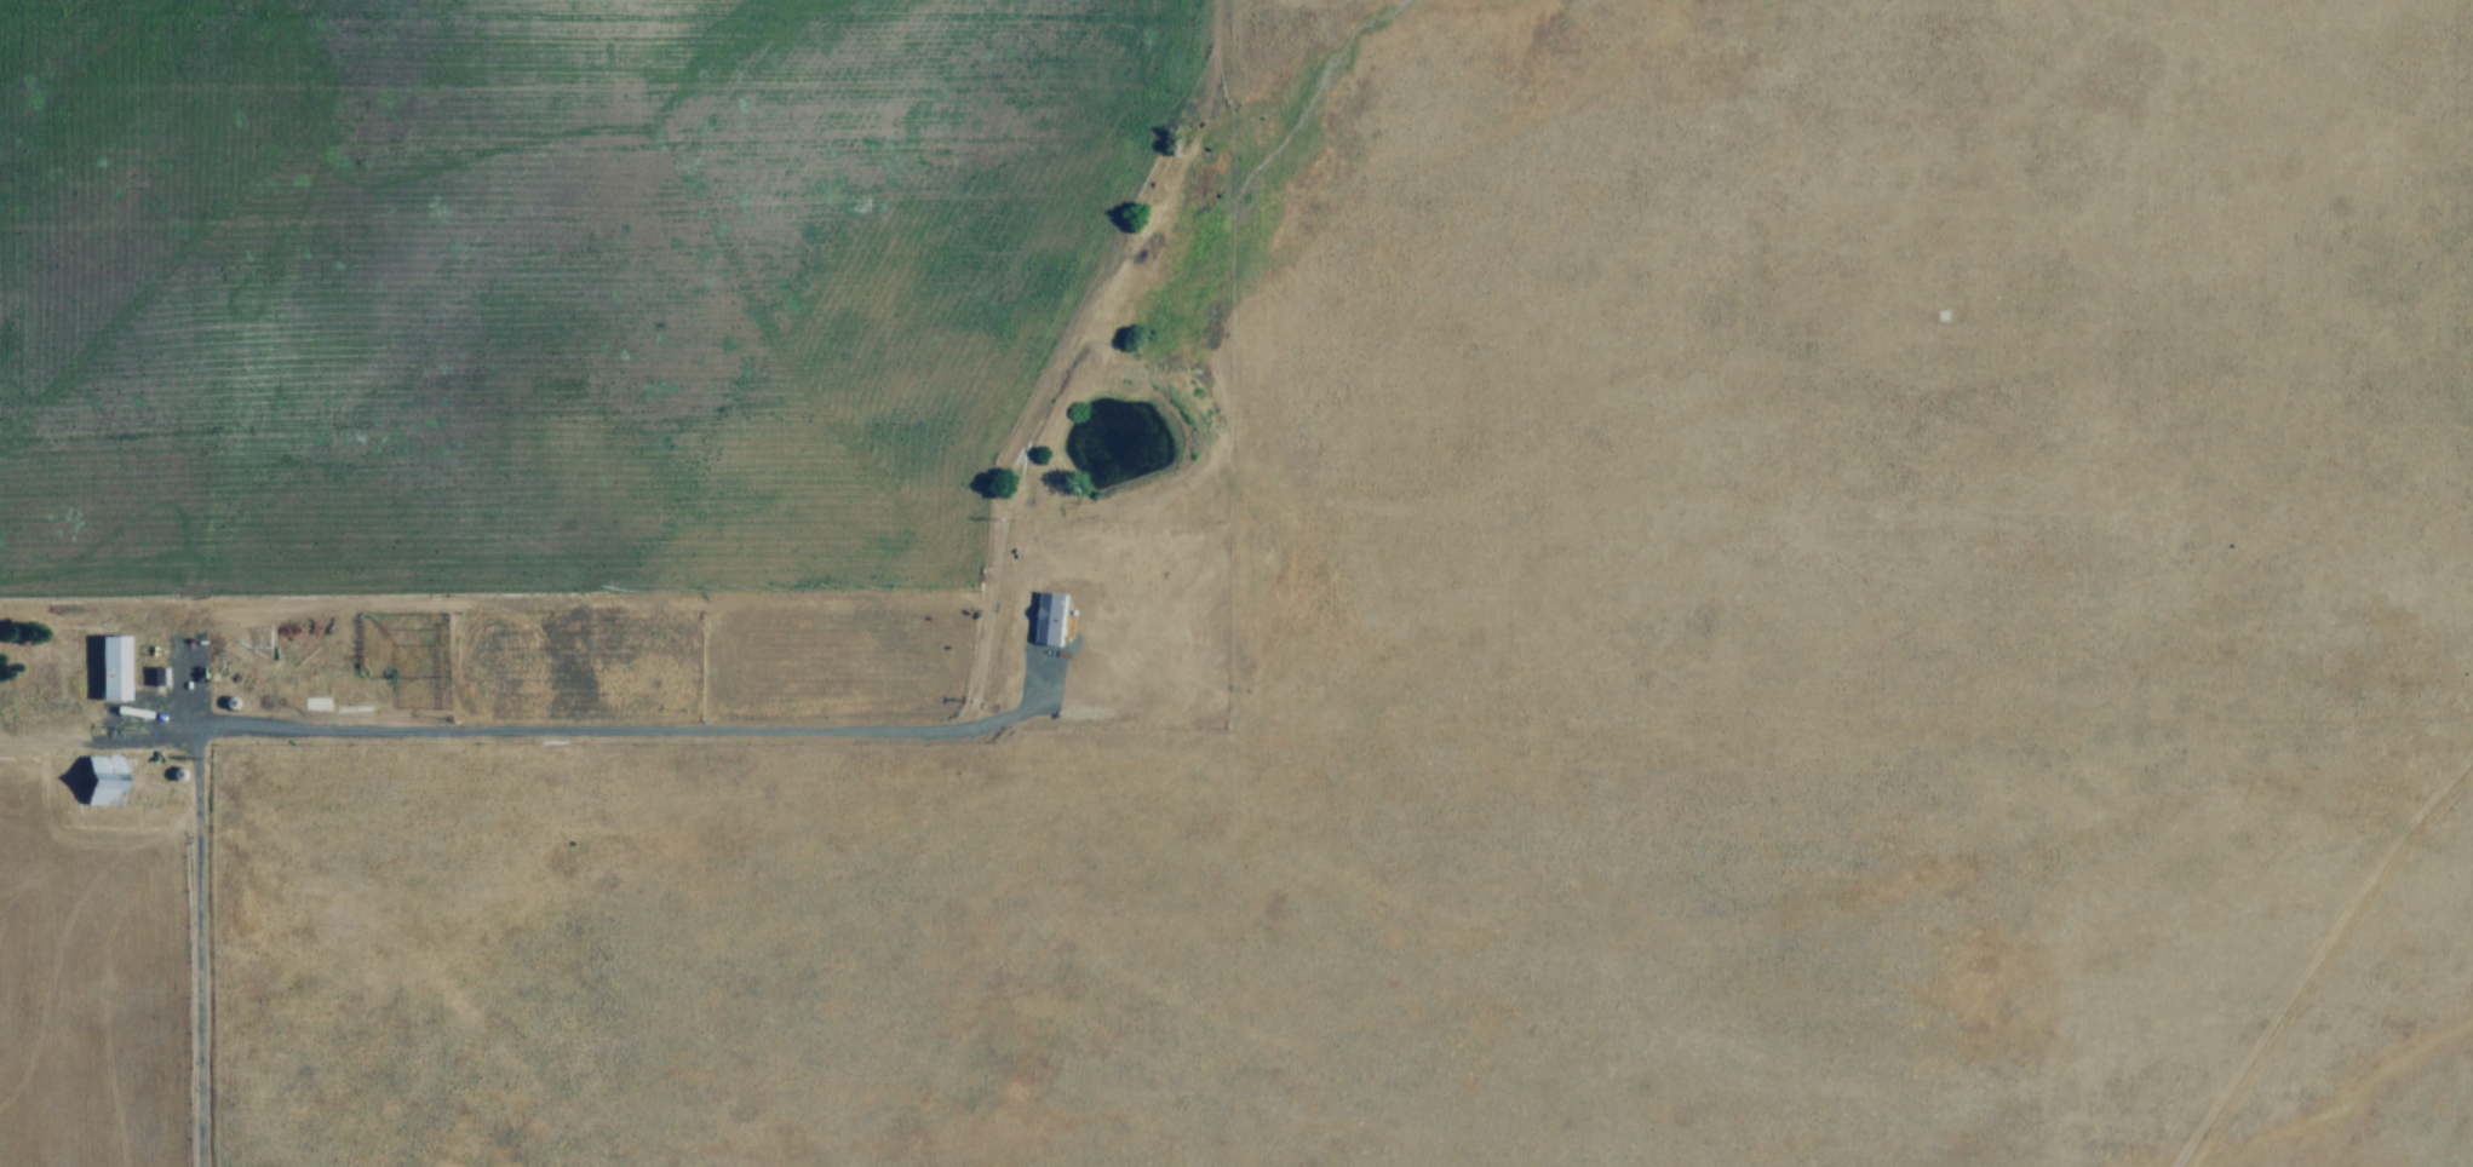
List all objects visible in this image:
building: (1049, 617)
building: (386, 638)
building: (474, 638)
building: (113, 663)
building: (104, 776)
road: (196, 893)

